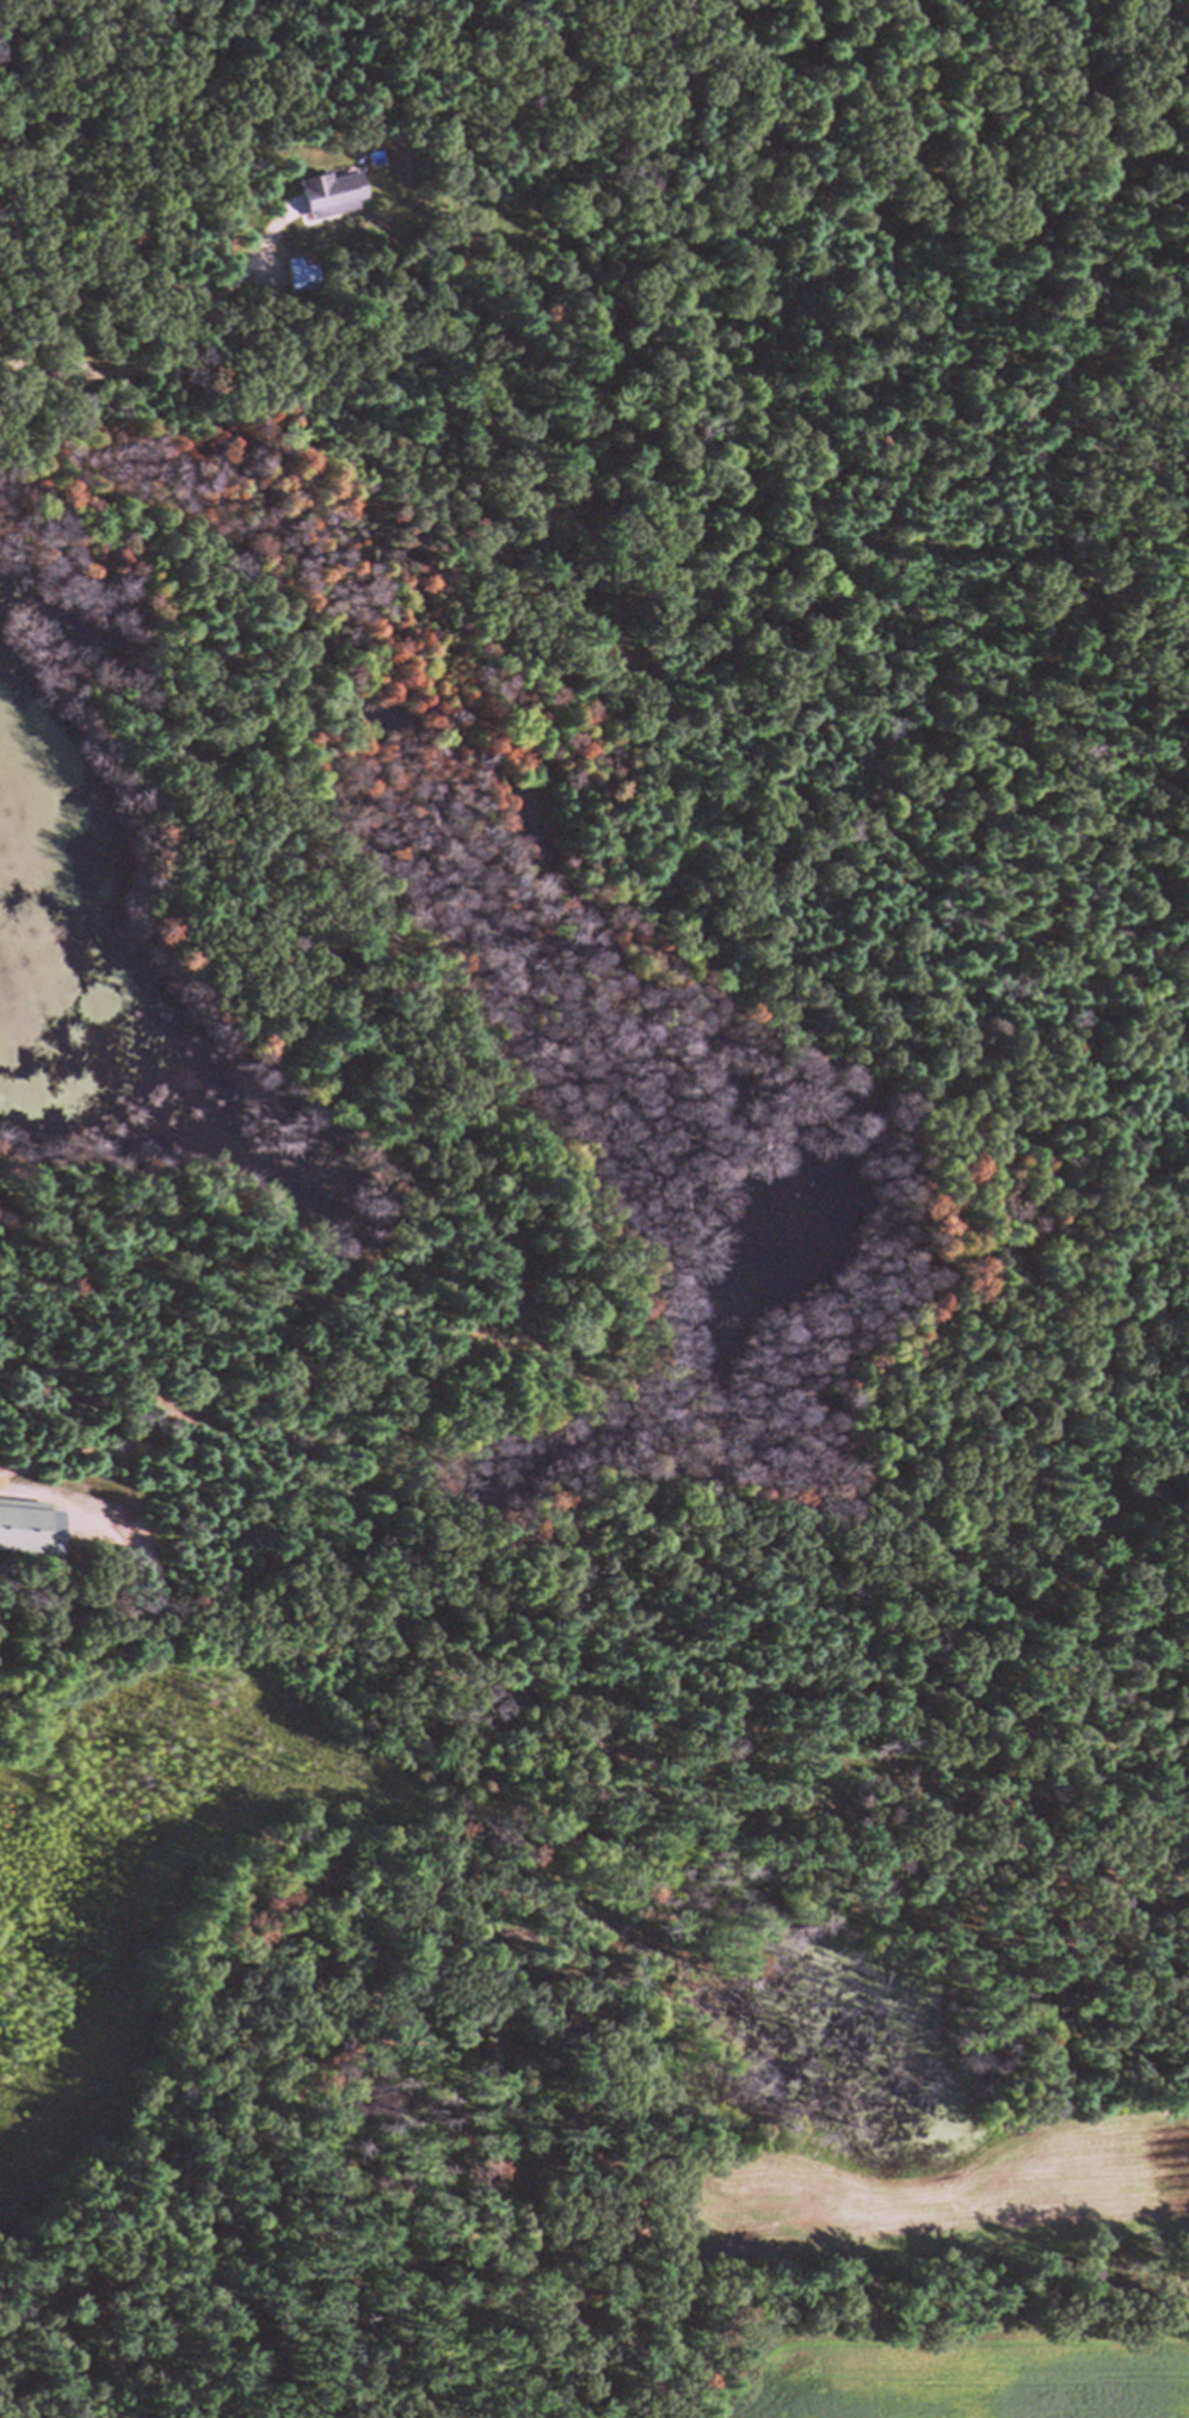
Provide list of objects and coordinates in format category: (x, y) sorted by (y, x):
building: (245, 2)
building: (326, 195)
building: (295, 276)
road: (167, 358)
building: (26, 1530)

